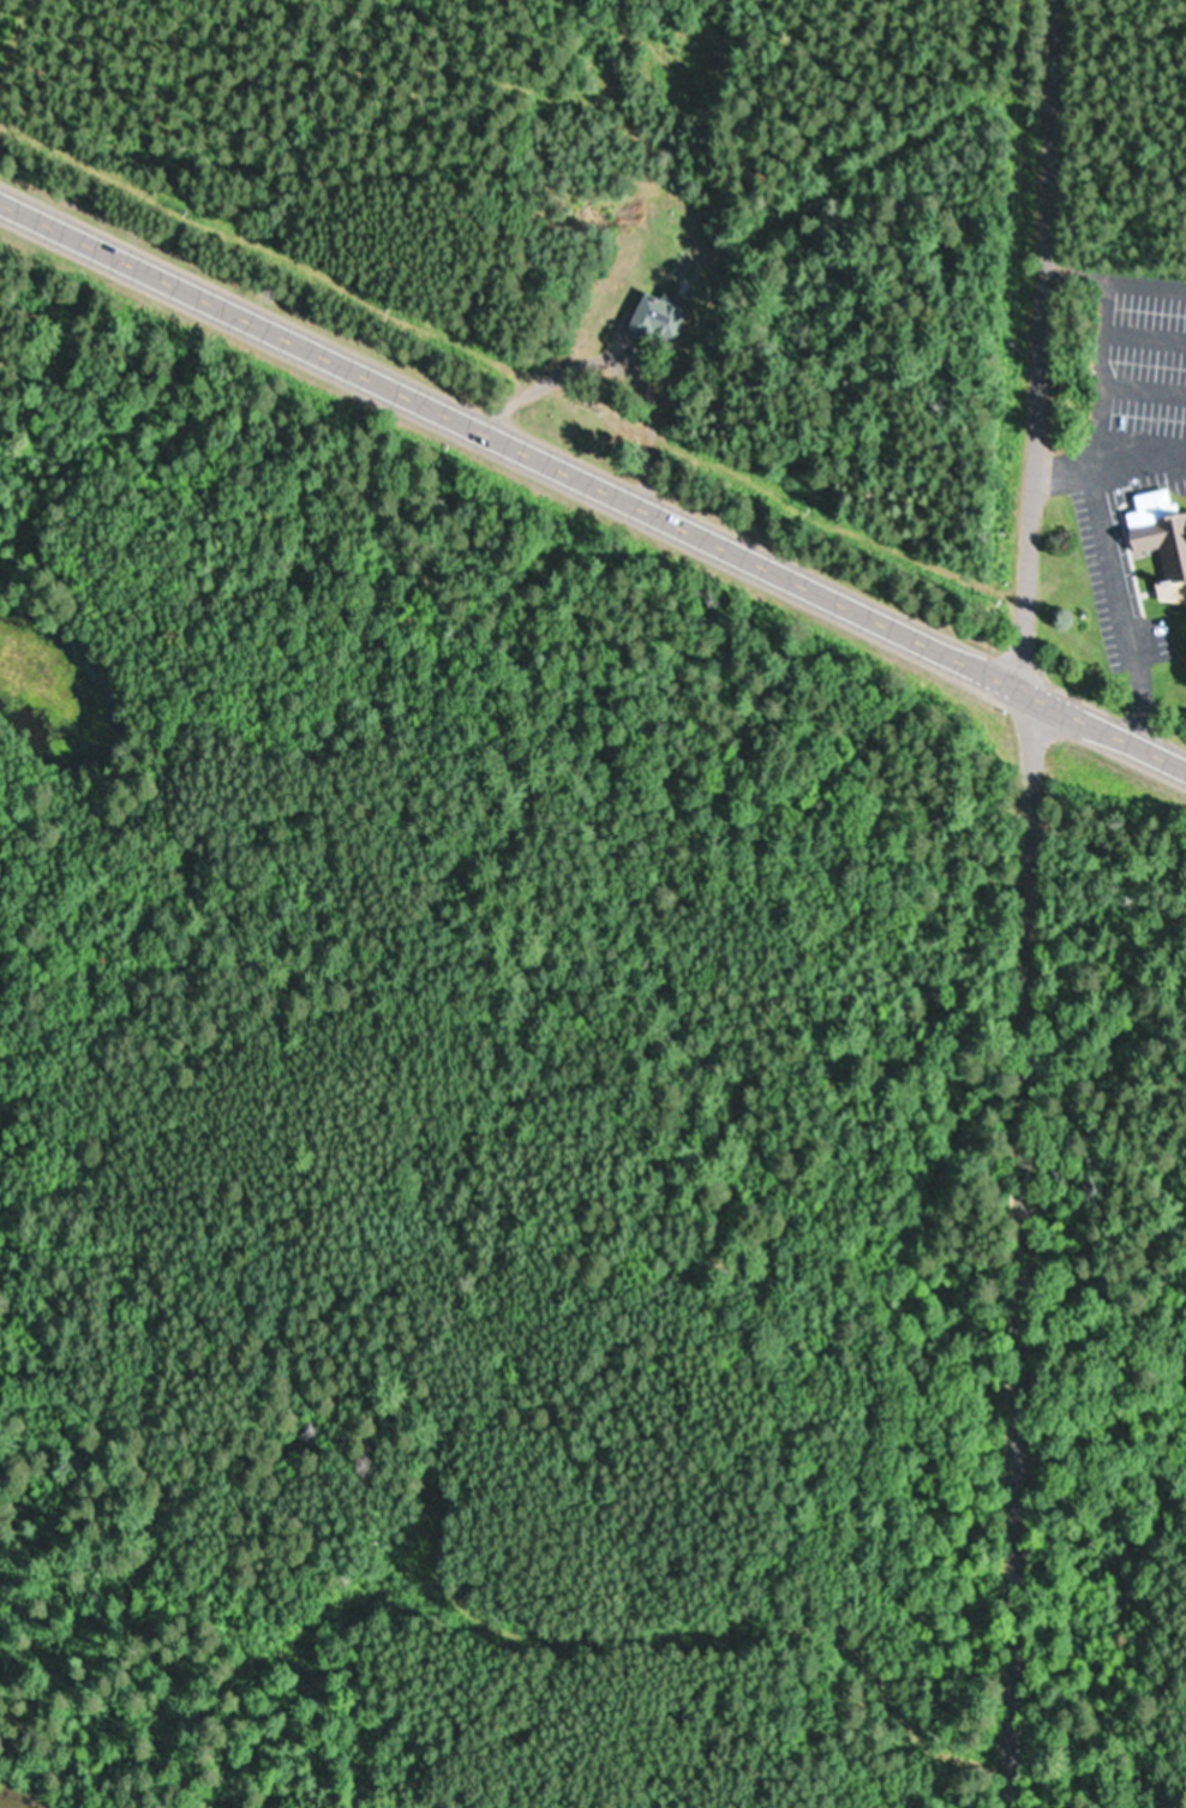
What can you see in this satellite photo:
building: (659, 318)
road: (1037, 341)
road: (593, 478)
building: (1157, 538)
road: (1016, 1245)

